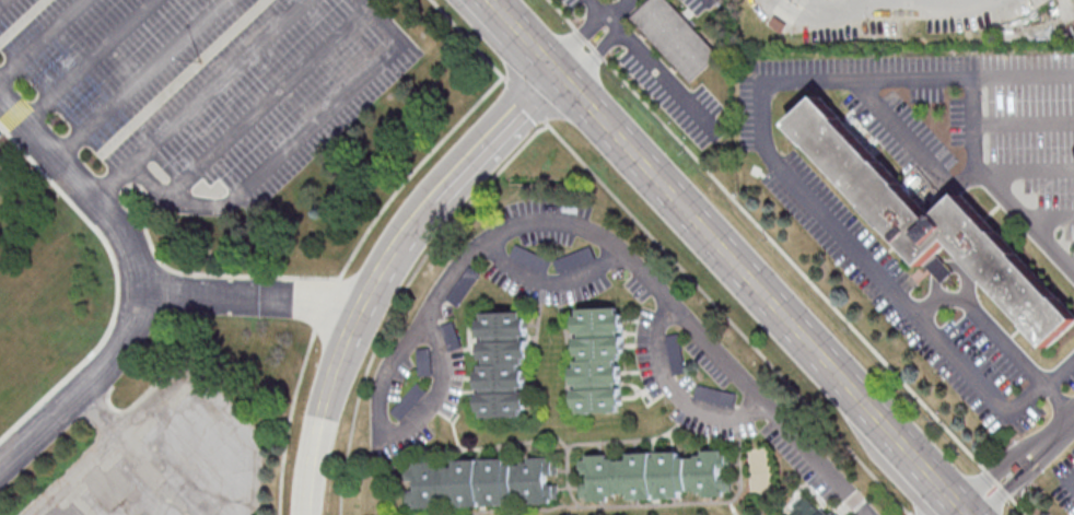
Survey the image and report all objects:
road: (2, 1)
road: (626, 10)
road: (523, 38)
road: (596, 38)
road: (43, 39)
building: (679, 40)
road: (92, 61)
road: (665, 75)
road: (141, 79)
road: (221, 83)
road: (271, 100)
road: (276, 156)
road: (787, 173)
building: (0, 176)
building: (1, 179)
road: (990, 188)
building: (939, 227)
road: (606, 238)
road: (712, 238)
road: (388, 271)
road: (145, 277)
road: (550, 281)
building: (459, 290)
road: (988, 319)
building: (451, 335)
building: (597, 360)
building: (423, 361)
building: (503, 363)
road: (80, 375)
road: (437, 388)
road: (676, 394)
road: (1059, 398)
road: (1073, 417)
road: (1051, 435)
road: (910, 452)
building: (659, 475)
road: (981, 478)
building: (482, 481)
road: (1009, 488)
building: (806, 507)
road: (960, 508)

